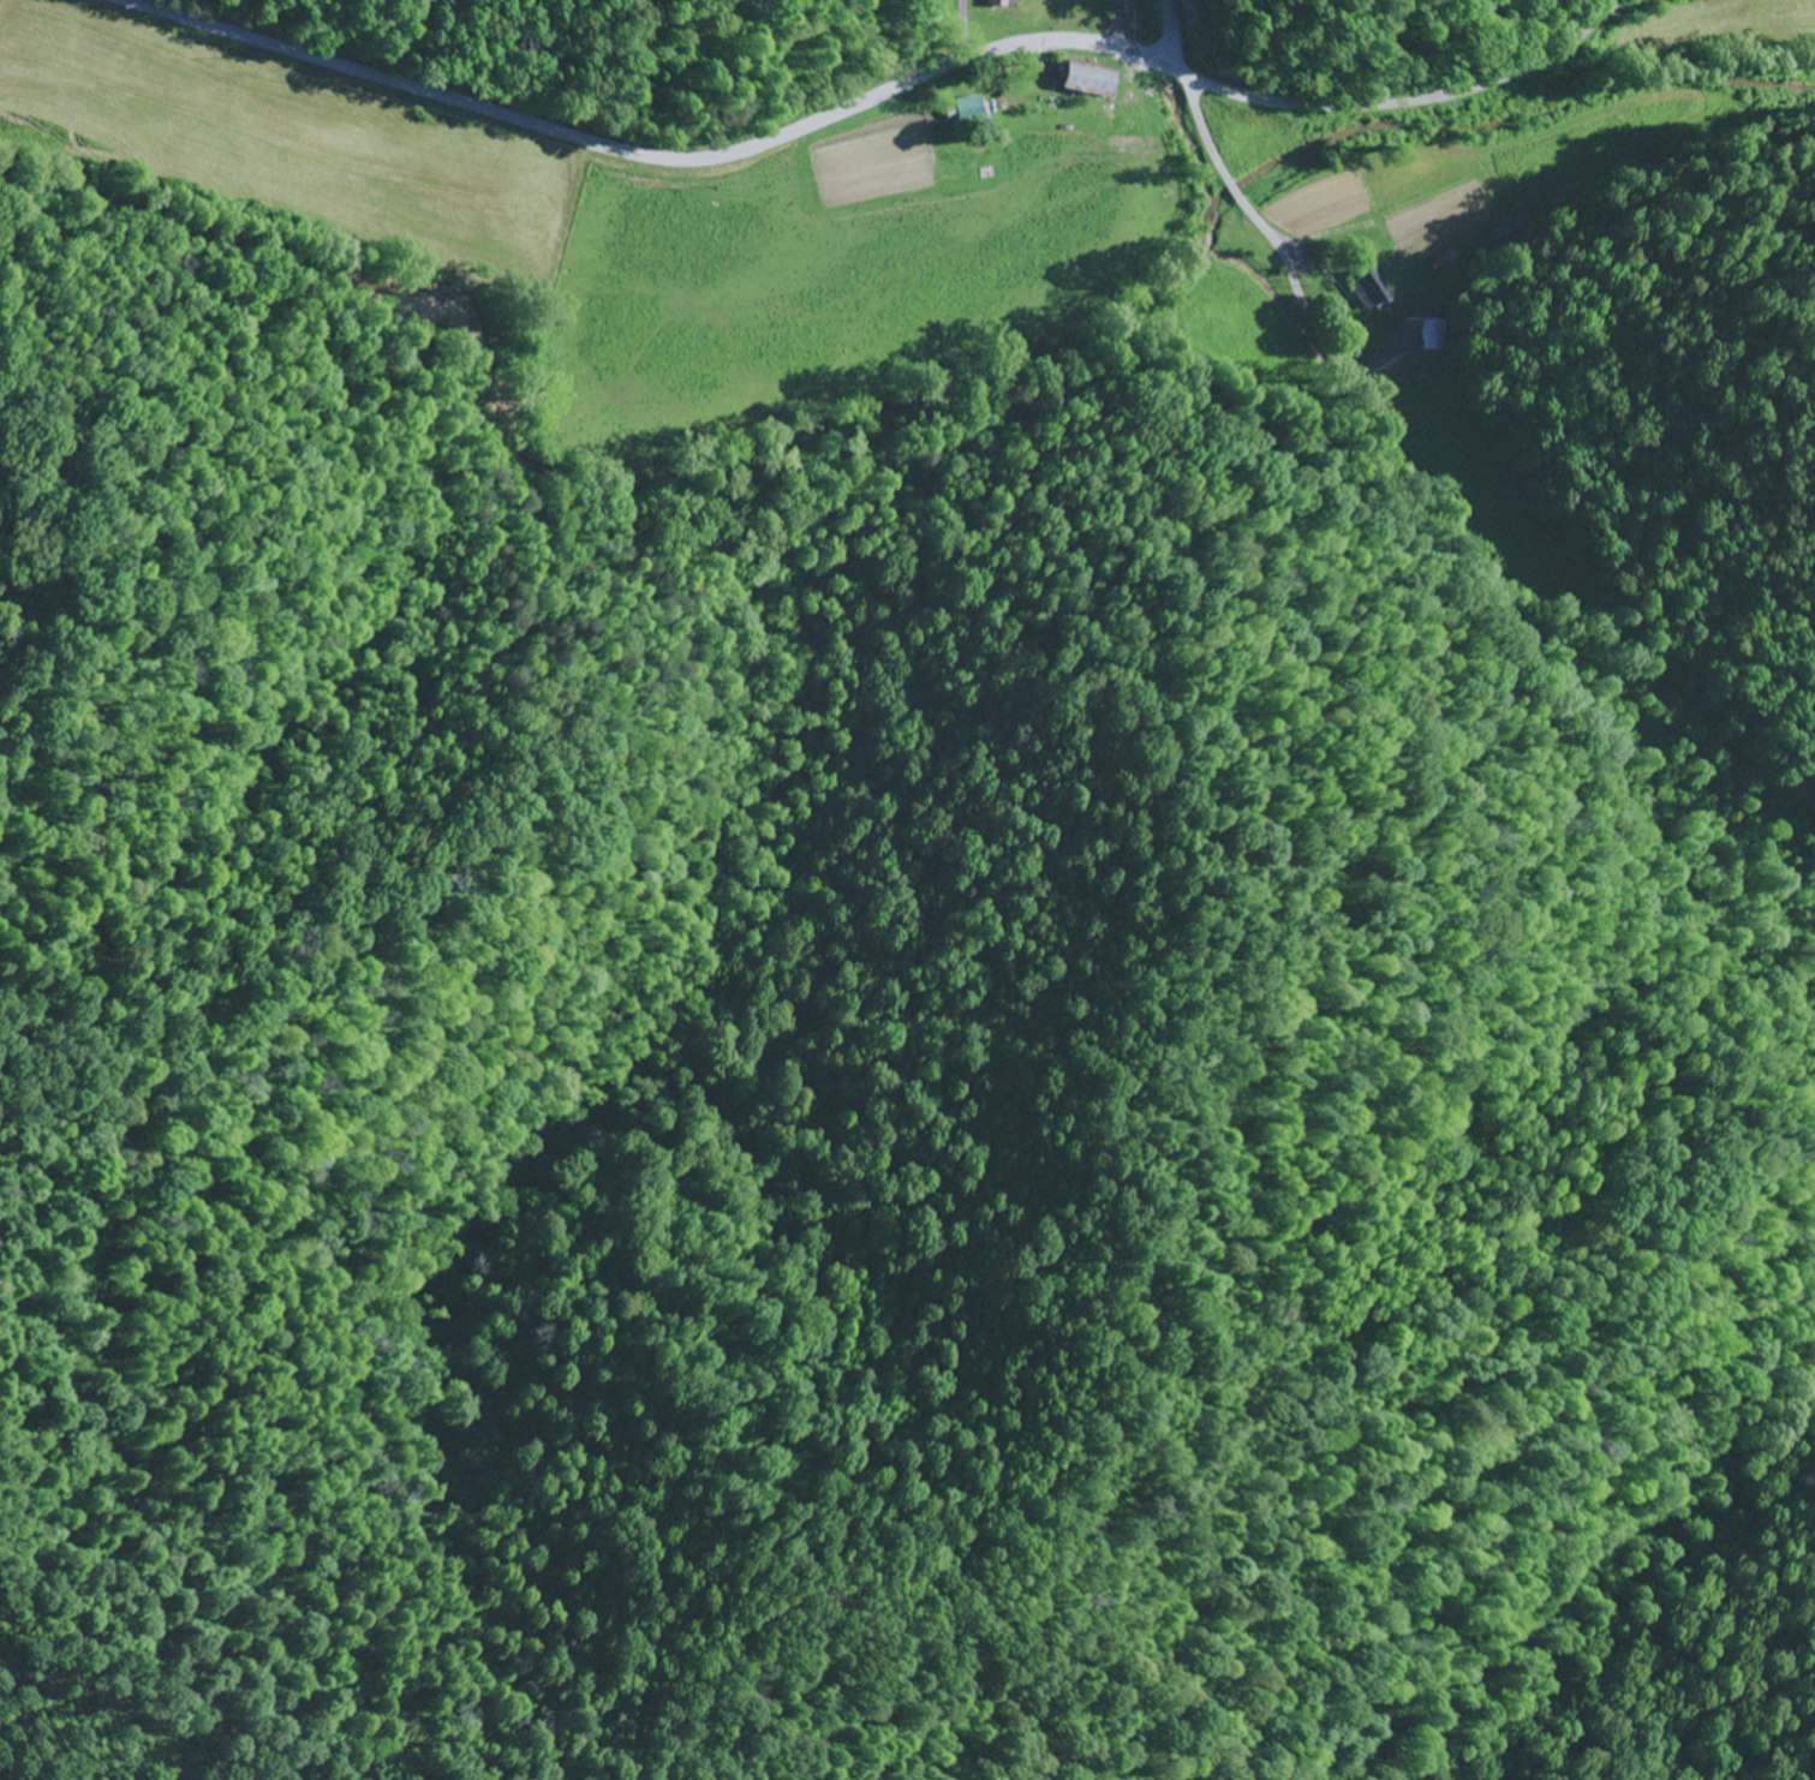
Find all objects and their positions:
building: (999, 4)
road: (1114, 24)
building: (1081, 79)
road: (1417, 101)
building: (973, 112)
road: (657, 159)
road: (1248, 210)
building: (1368, 292)

